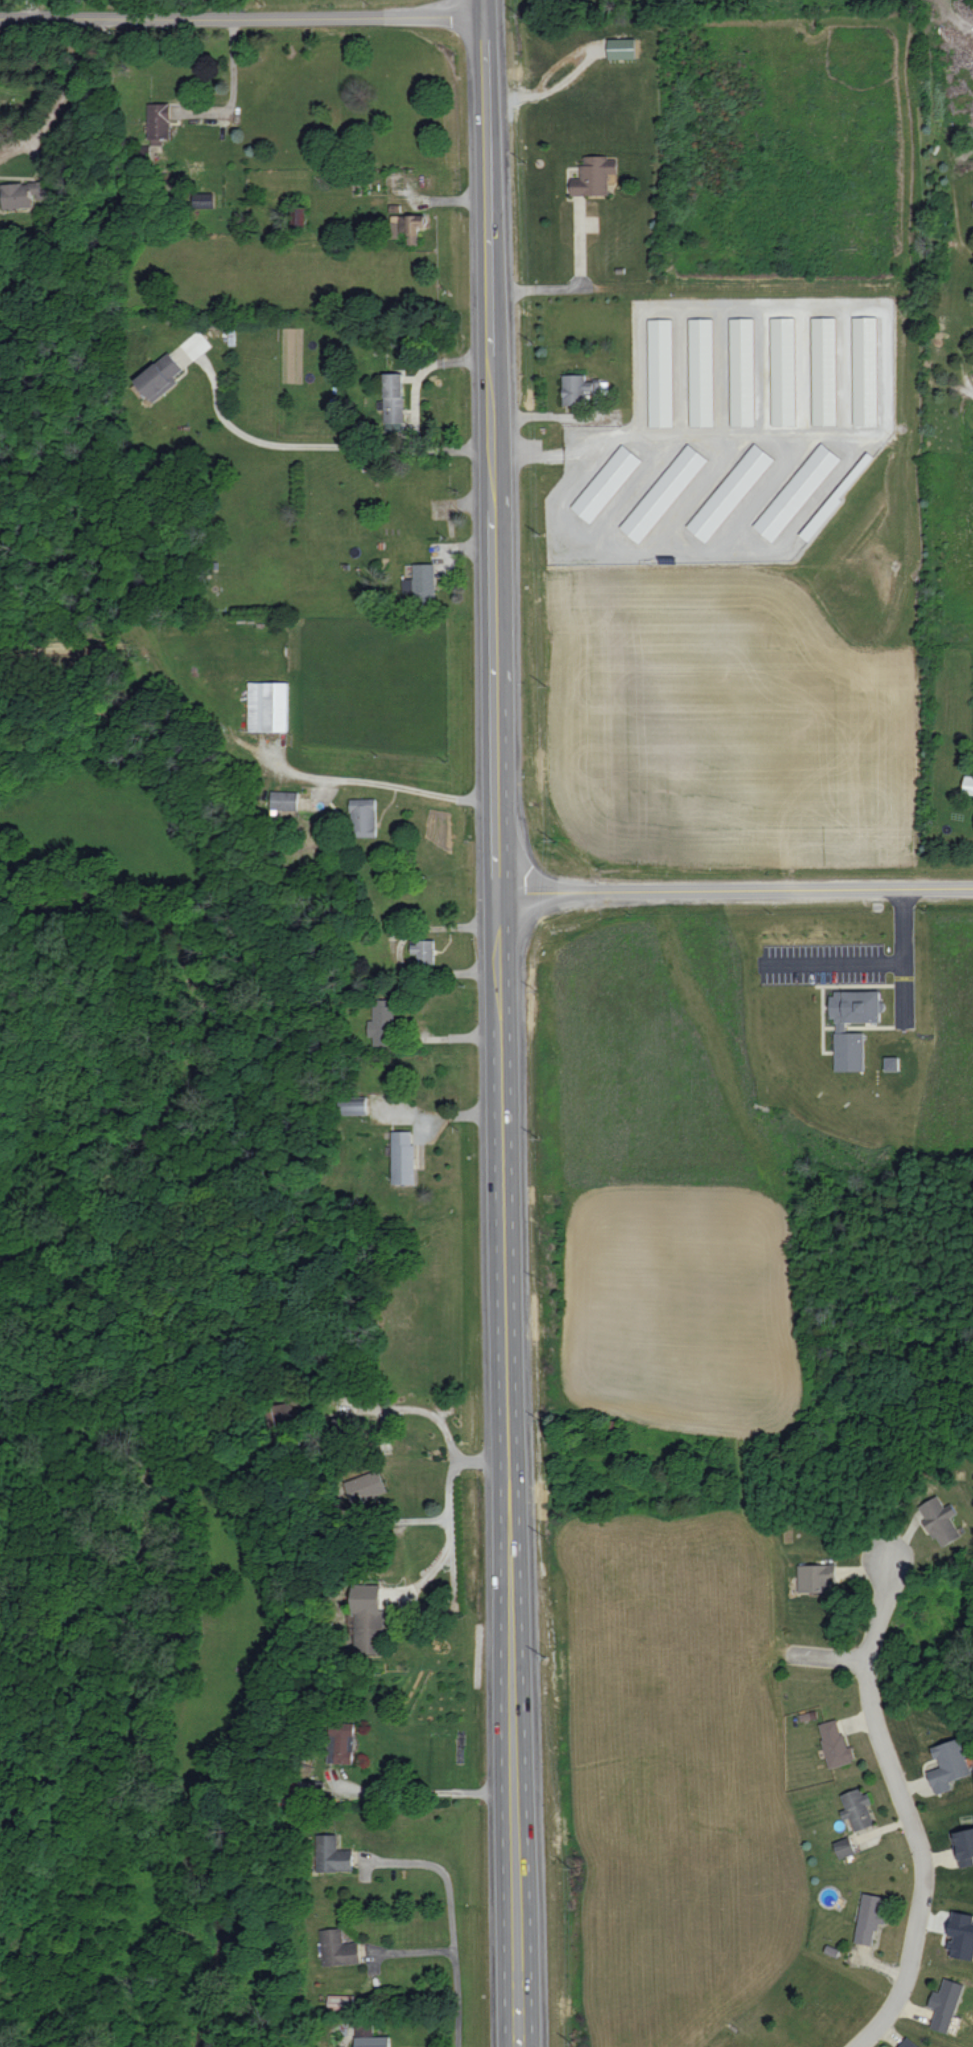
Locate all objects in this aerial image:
road: (240, 15)
building: (621, 48)
building: (159, 122)
building: (594, 175)
building: (23, 193)
building: (203, 199)
building: (298, 216)
building: (415, 227)
building: (826, 370)
building: (702, 371)
building: (743, 371)
building: (784, 371)
building: (867, 371)
building: (661, 372)
building: (160, 377)
building: (393, 400)
road: (316, 445)
building: (606, 483)
building: (730, 492)
building: (797, 492)
building: (664, 493)
building: (421, 583)
building: (268, 706)
building: (968, 784)
road: (411, 790)
building: (284, 800)
building: (363, 817)
road: (733, 892)
building: (423, 950)
road: (905, 959)
road: (835, 966)
building: (382, 1022)
road: (496, 1023)
building: (841, 1026)
building: (892, 1063)
building: (355, 1104)
building: (403, 1157)
building: (286, 1413)
road: (434, 1417)
building: (365, 1486)
road: (450, 1518)
building: (939, 1520)
building: (816, 1577)
building: (368, 1618)
building: (342, 1742)
building: (835, 1743)
building: (949, 1764)
building: (315, 1788)
road: (425, 1794)
road: (903, 1805)
building: (857, 1808)
building: (964, 1846)
building: (844, 1847)
building: (333, 1853)
building: (870, 1917)
road: (453, 1924)
building: (961, 1935)
building: (338, 1948)
road: (417, 1954)
building: (341, 2002)
building: (946, 2004)
building: (908, 2043)

